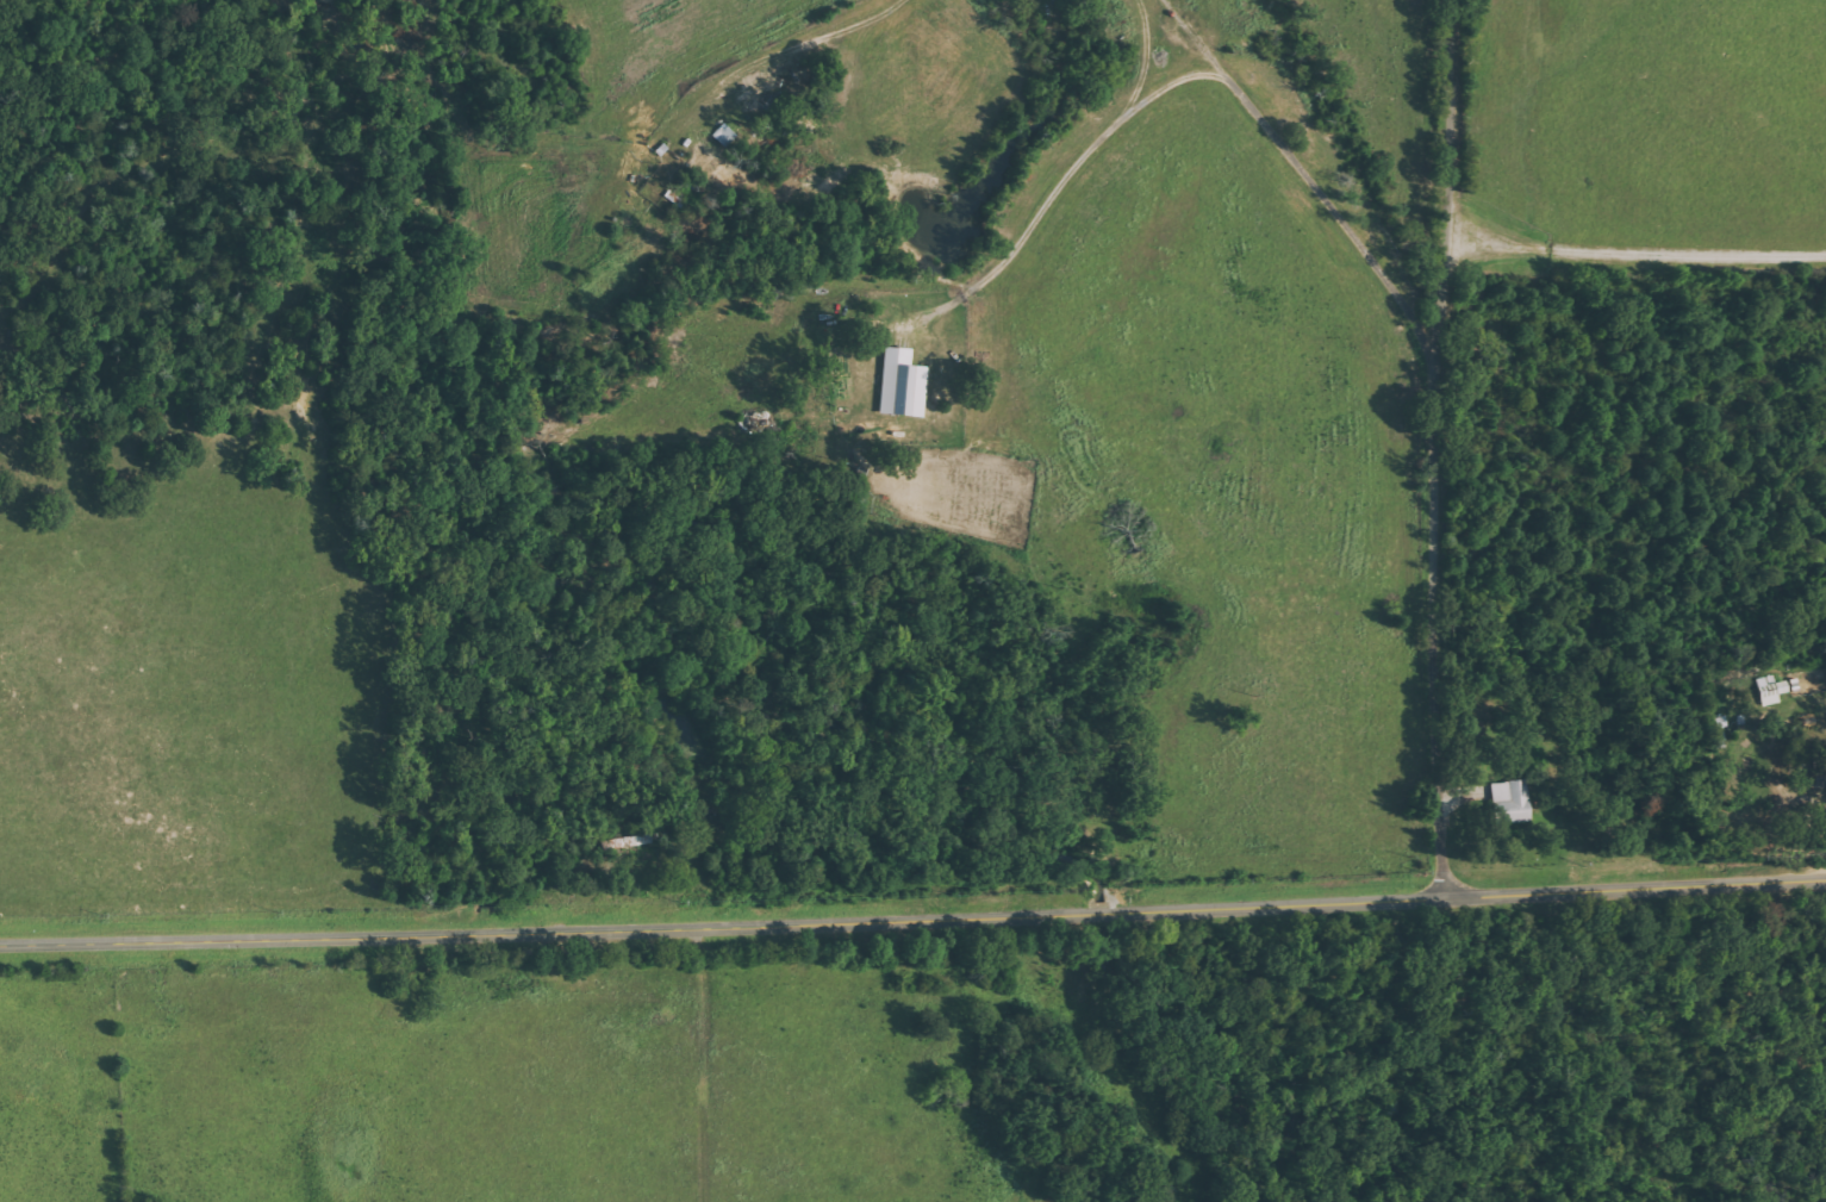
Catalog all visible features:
building: (905, 384)
road: (1440, 449)
road: (1240, 490)
building: (1774, 689)
building: (1821, 767)
building: (1513, 801)
road: (912, 918)

